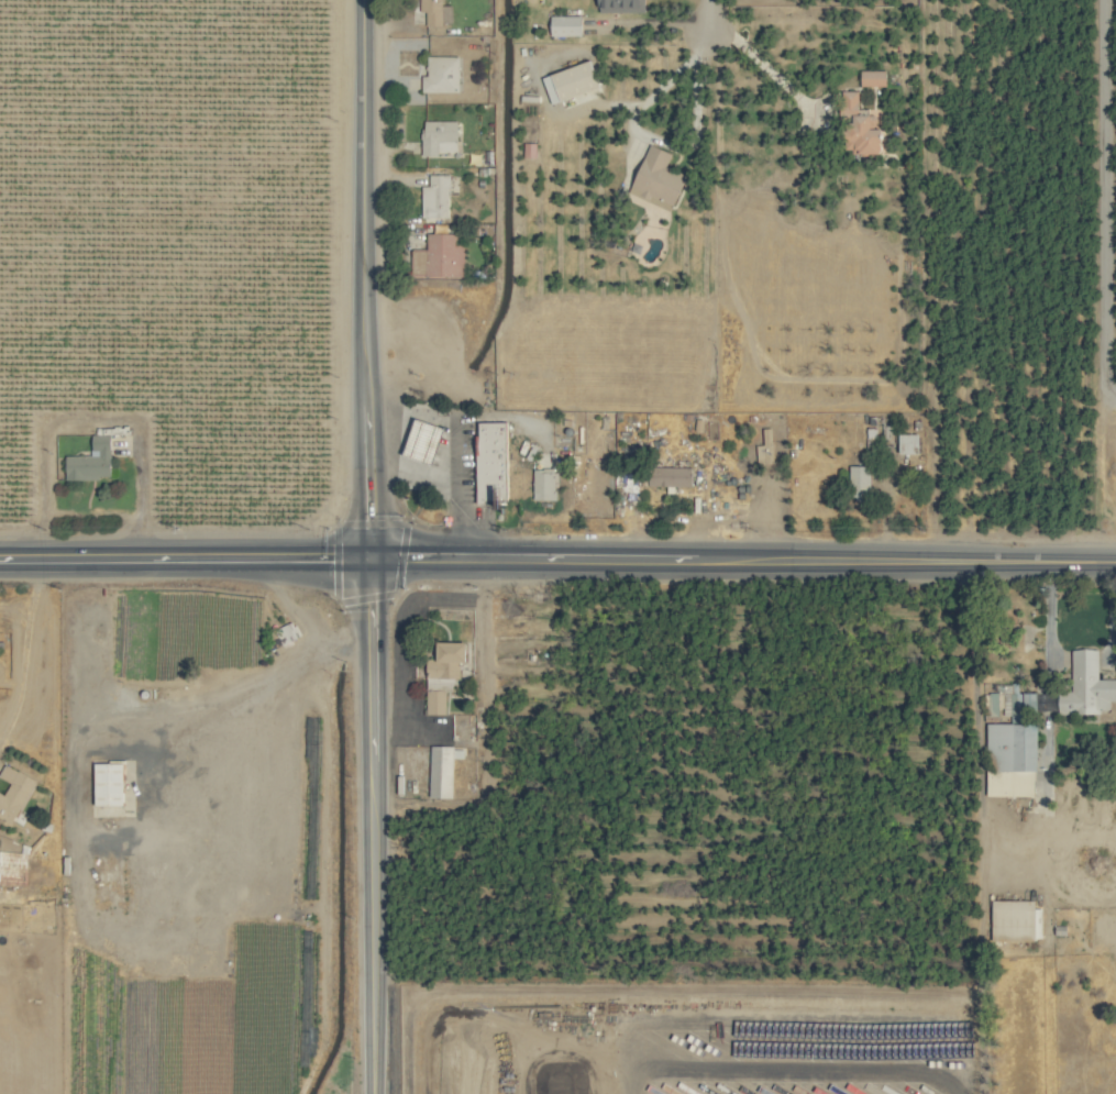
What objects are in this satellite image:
building: (622, 4)
building: (437, 11)
road: (710, 13)
building: (566, 24)
road: (756, 65)
building: (441, 74)
building: (873, 77)
building: (571, 80)
road: (696, 84)
building: (860, 128)
building: (440, 136)
building: (530, 148)
building: (659, 178)
building: (435, 197)
road: (1104, 203)
building: (439, 255)
road: (367, 278)
building: (908, 442)
road: (451, 449)
building: (91, 460)
building: (491, 462)
road: (411, 472)
building: (671, 475)
building: (860, 482)
building: (544, 484)
crop: (557, 546)
road: (185, 557)
road: (709, 559)
road: (1083, 561)
road: (1051, 614)
building: (287, 632)
building: (1, 643)
building: (445, 663)
building: (1087, 685)
building: (1027, 700)
building: (435, 701)
building: (1012, 759)
building: (441, 771)
building: (109, 784)
building: (13, 792)
road: (369, 826)
building: (13, 868)
building: (1014, 919)

